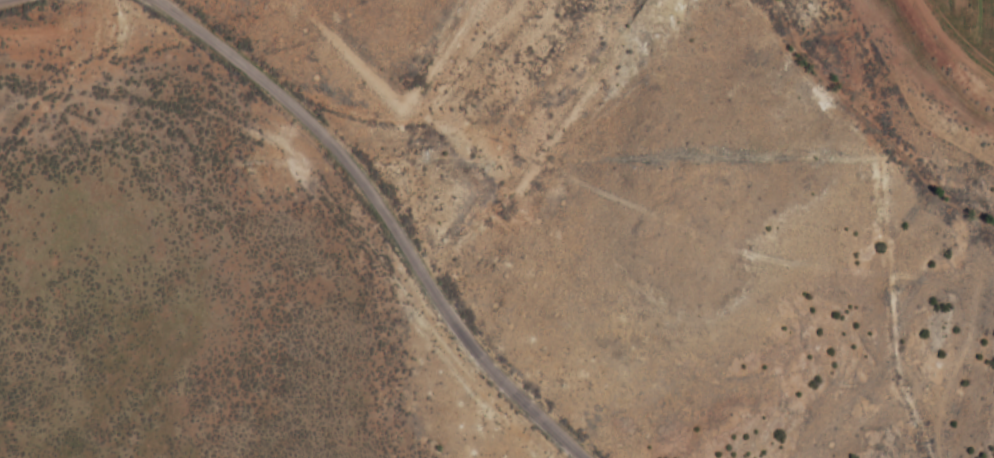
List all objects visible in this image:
road: (390, 197)

